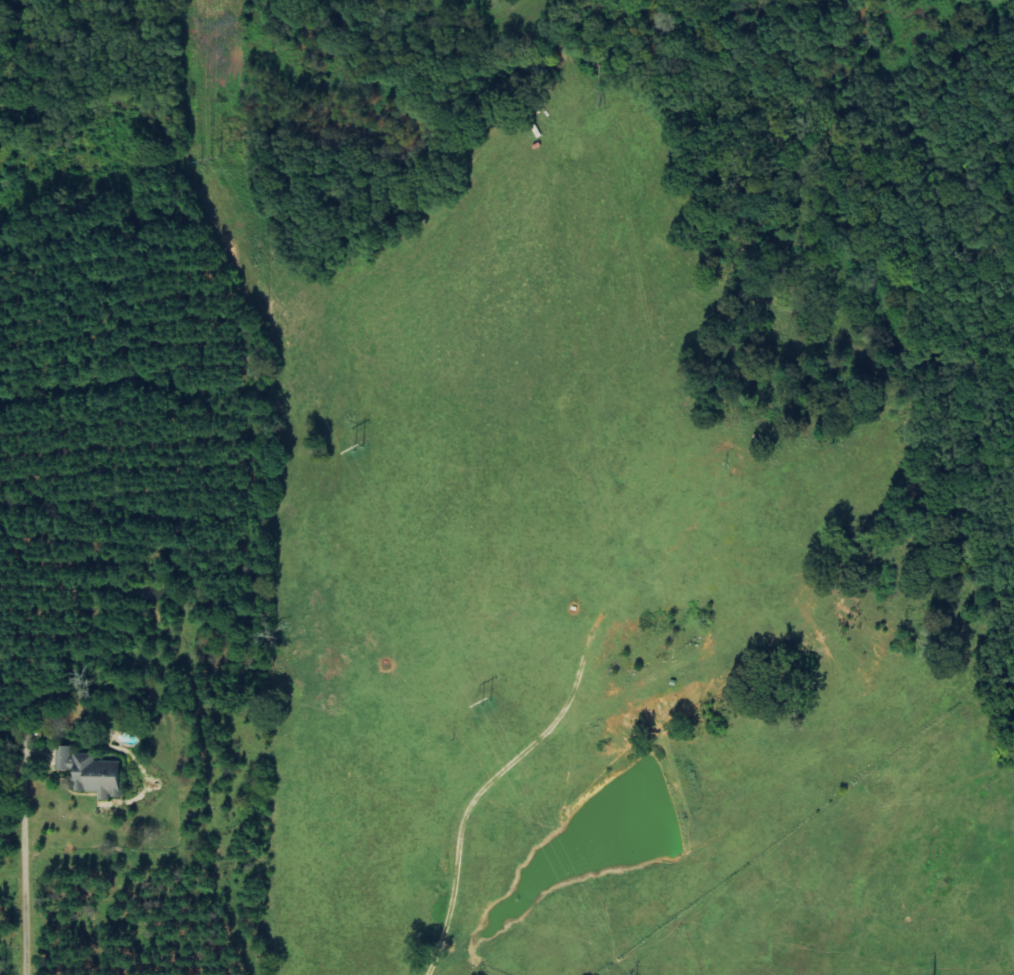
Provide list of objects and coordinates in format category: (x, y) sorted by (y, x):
building: (96, 773)
road: (27, 875)

